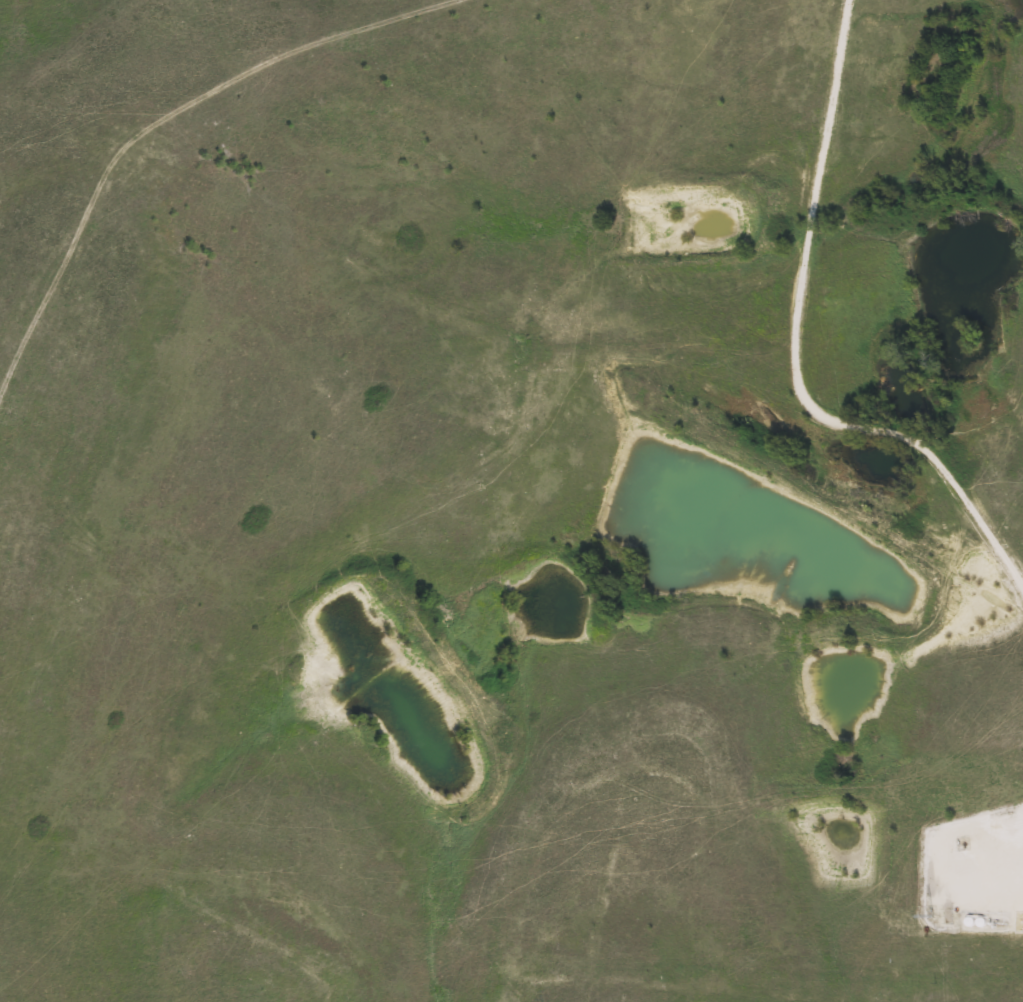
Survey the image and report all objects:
road: (795, 346)

